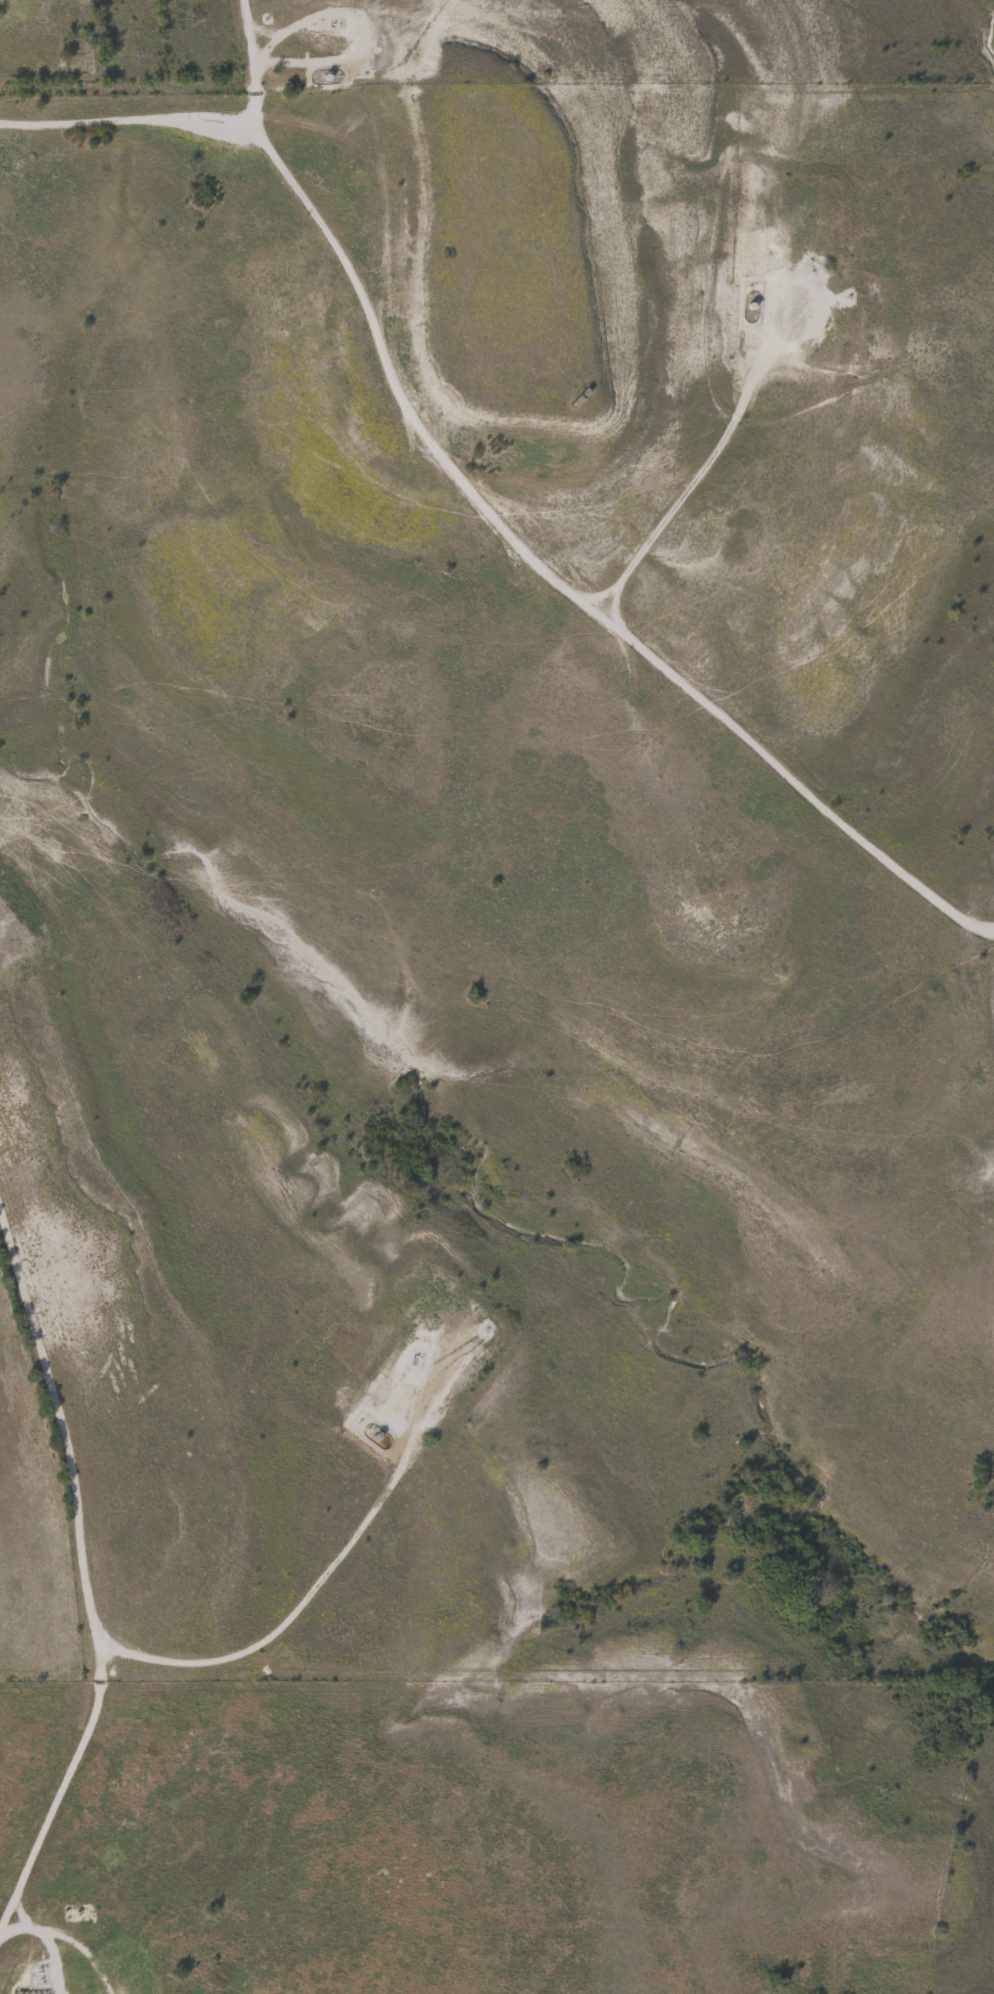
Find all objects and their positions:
road: (125, 121)
road: (515, 541)
road: (83, 1575)
road: (279, 1625)
road: (46, 1943)
road: (84, 1952)

